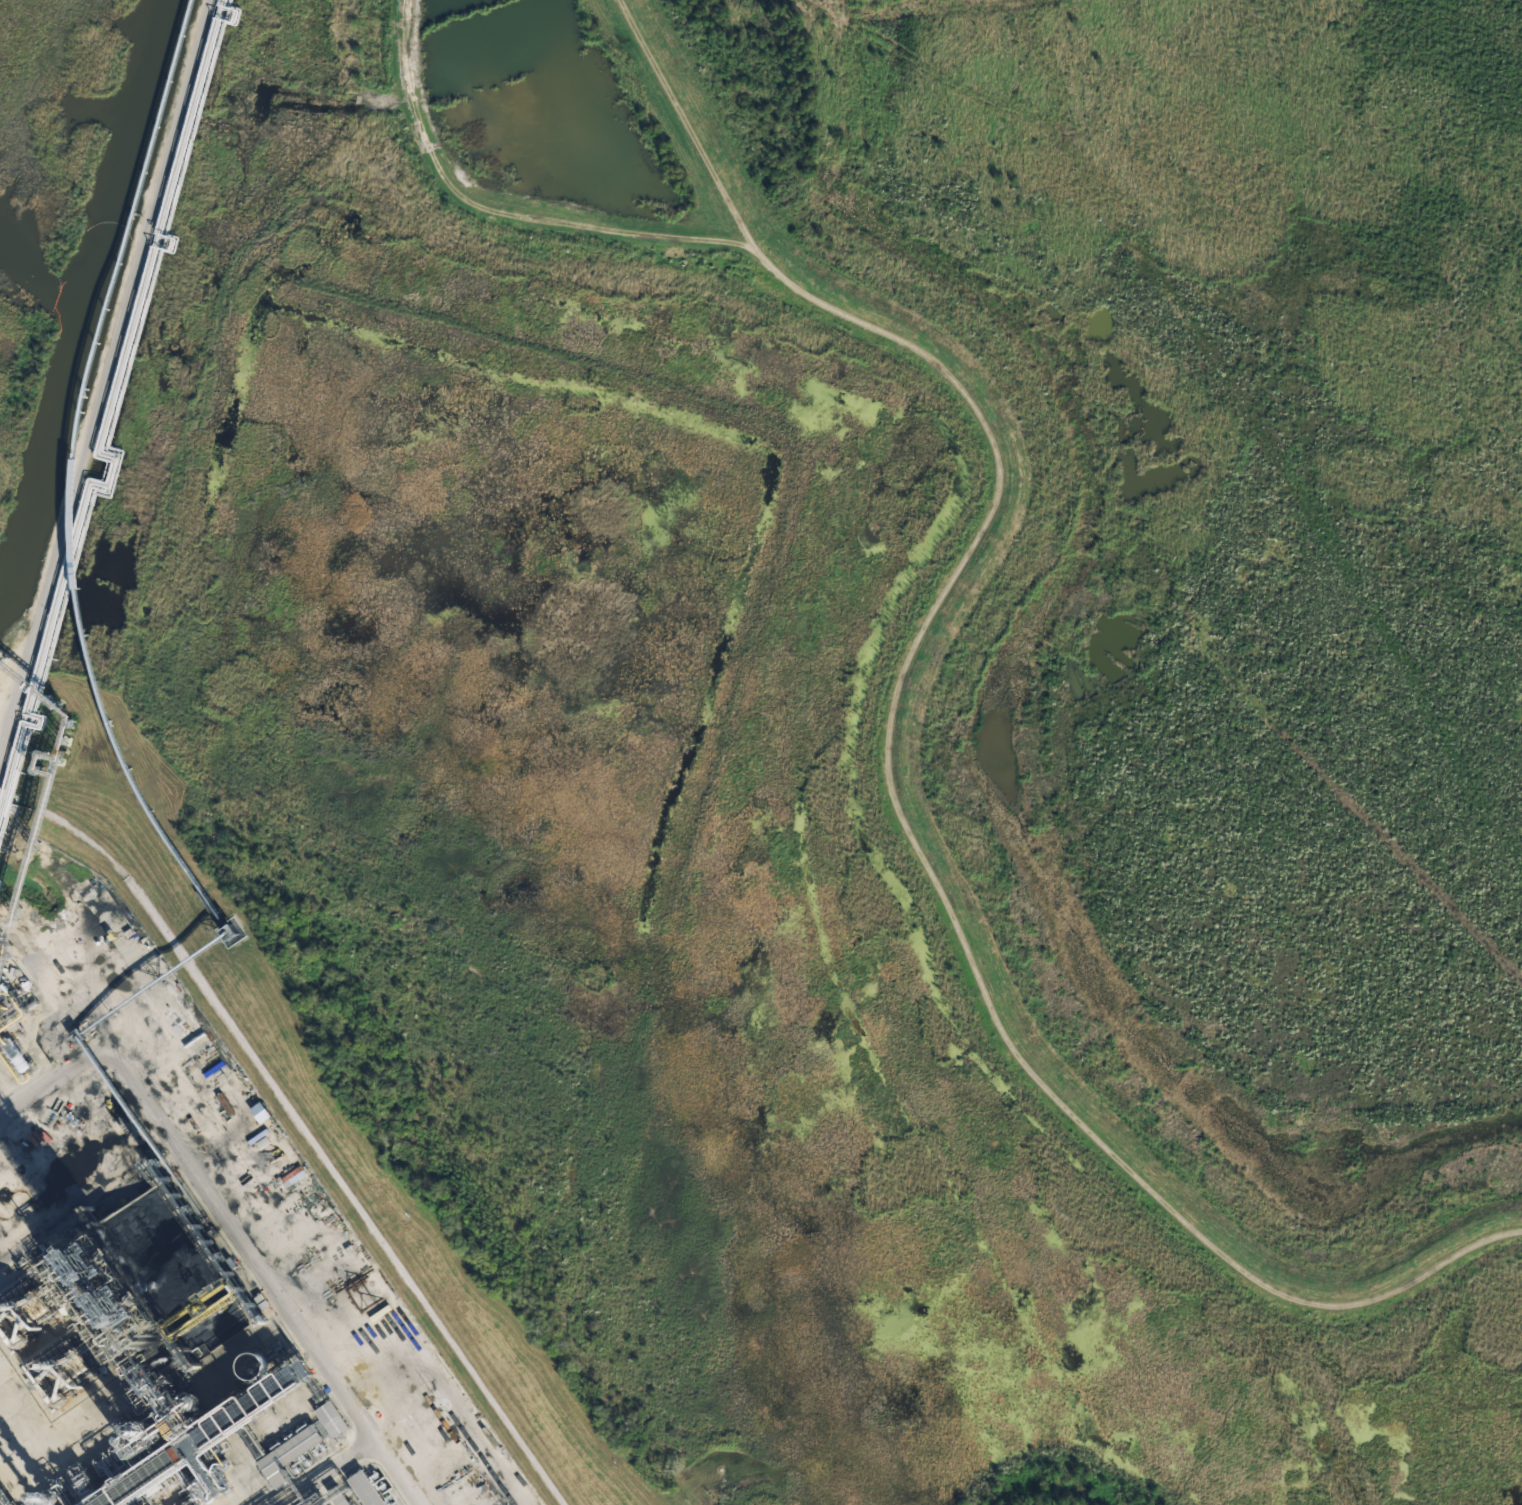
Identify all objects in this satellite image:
road: (109, 395)
building: (122, 935)
building: (260, 1111)
road: (302, 1127)
road: (228, 1218)
building: (237, 1366)
building: (328, 1419)
building: (285, 1451)
road: (319, 1466)
building: (362, 1489)
building: (335, 1498)

